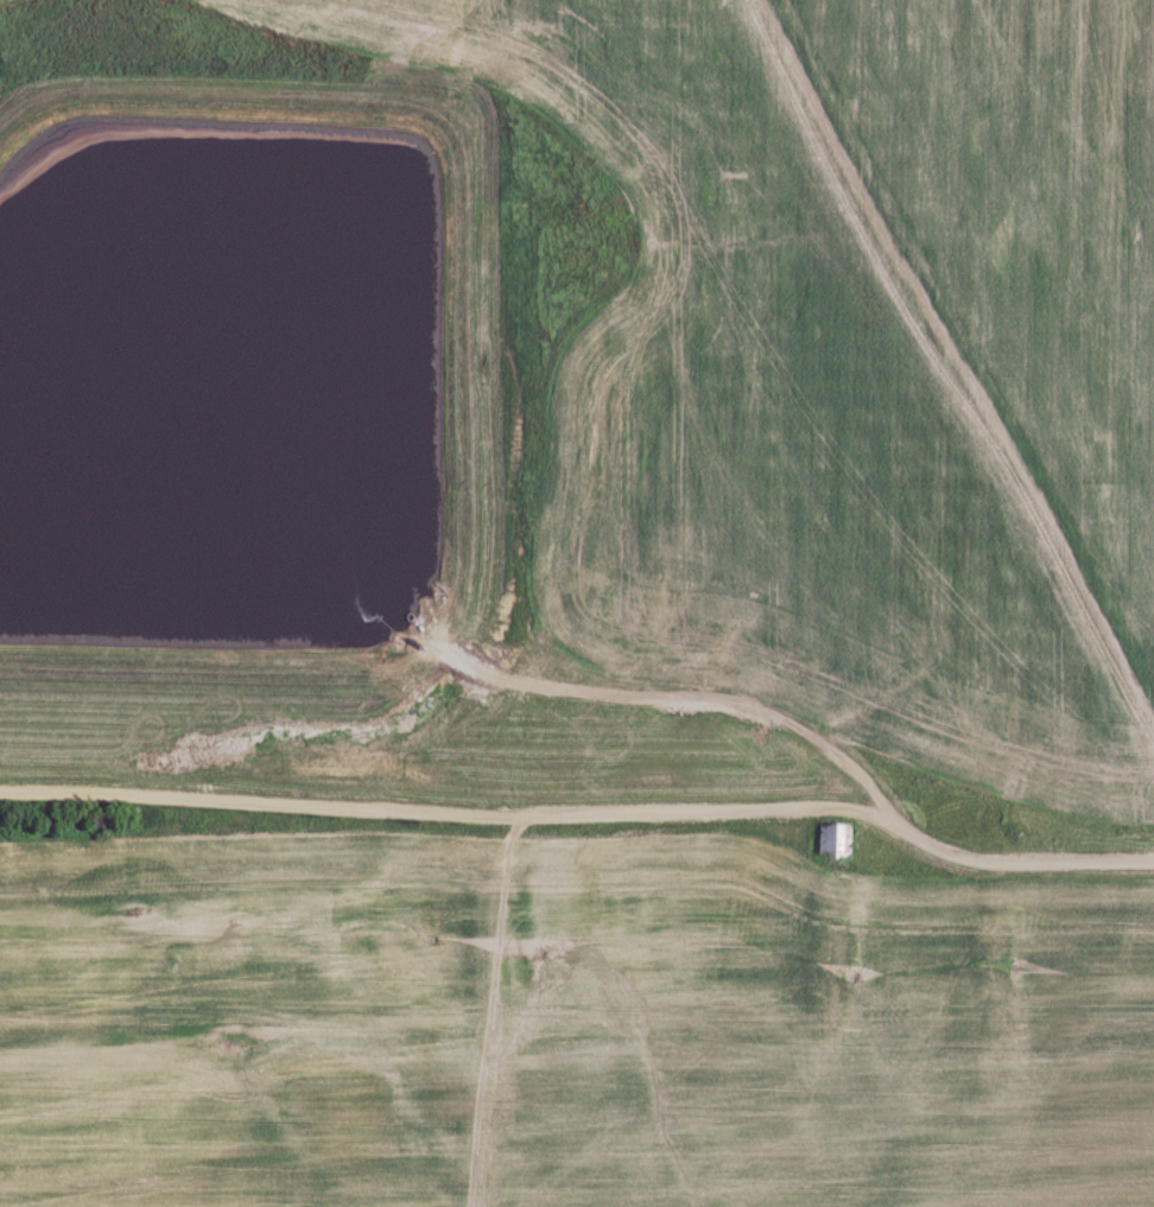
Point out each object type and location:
road: (959, 373)
road: (481, 800)
road: (1051, 855)

